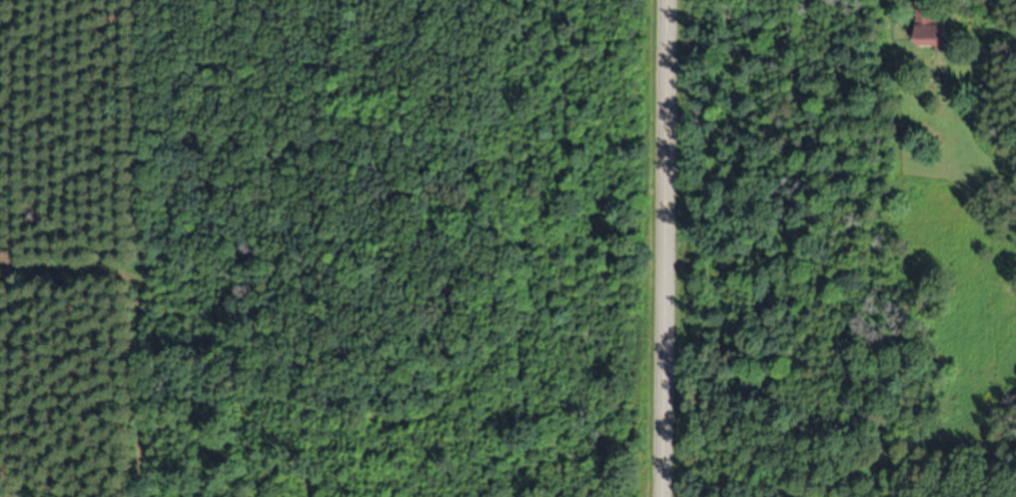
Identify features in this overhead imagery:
building: (929, 29)
road: (669, 248)

